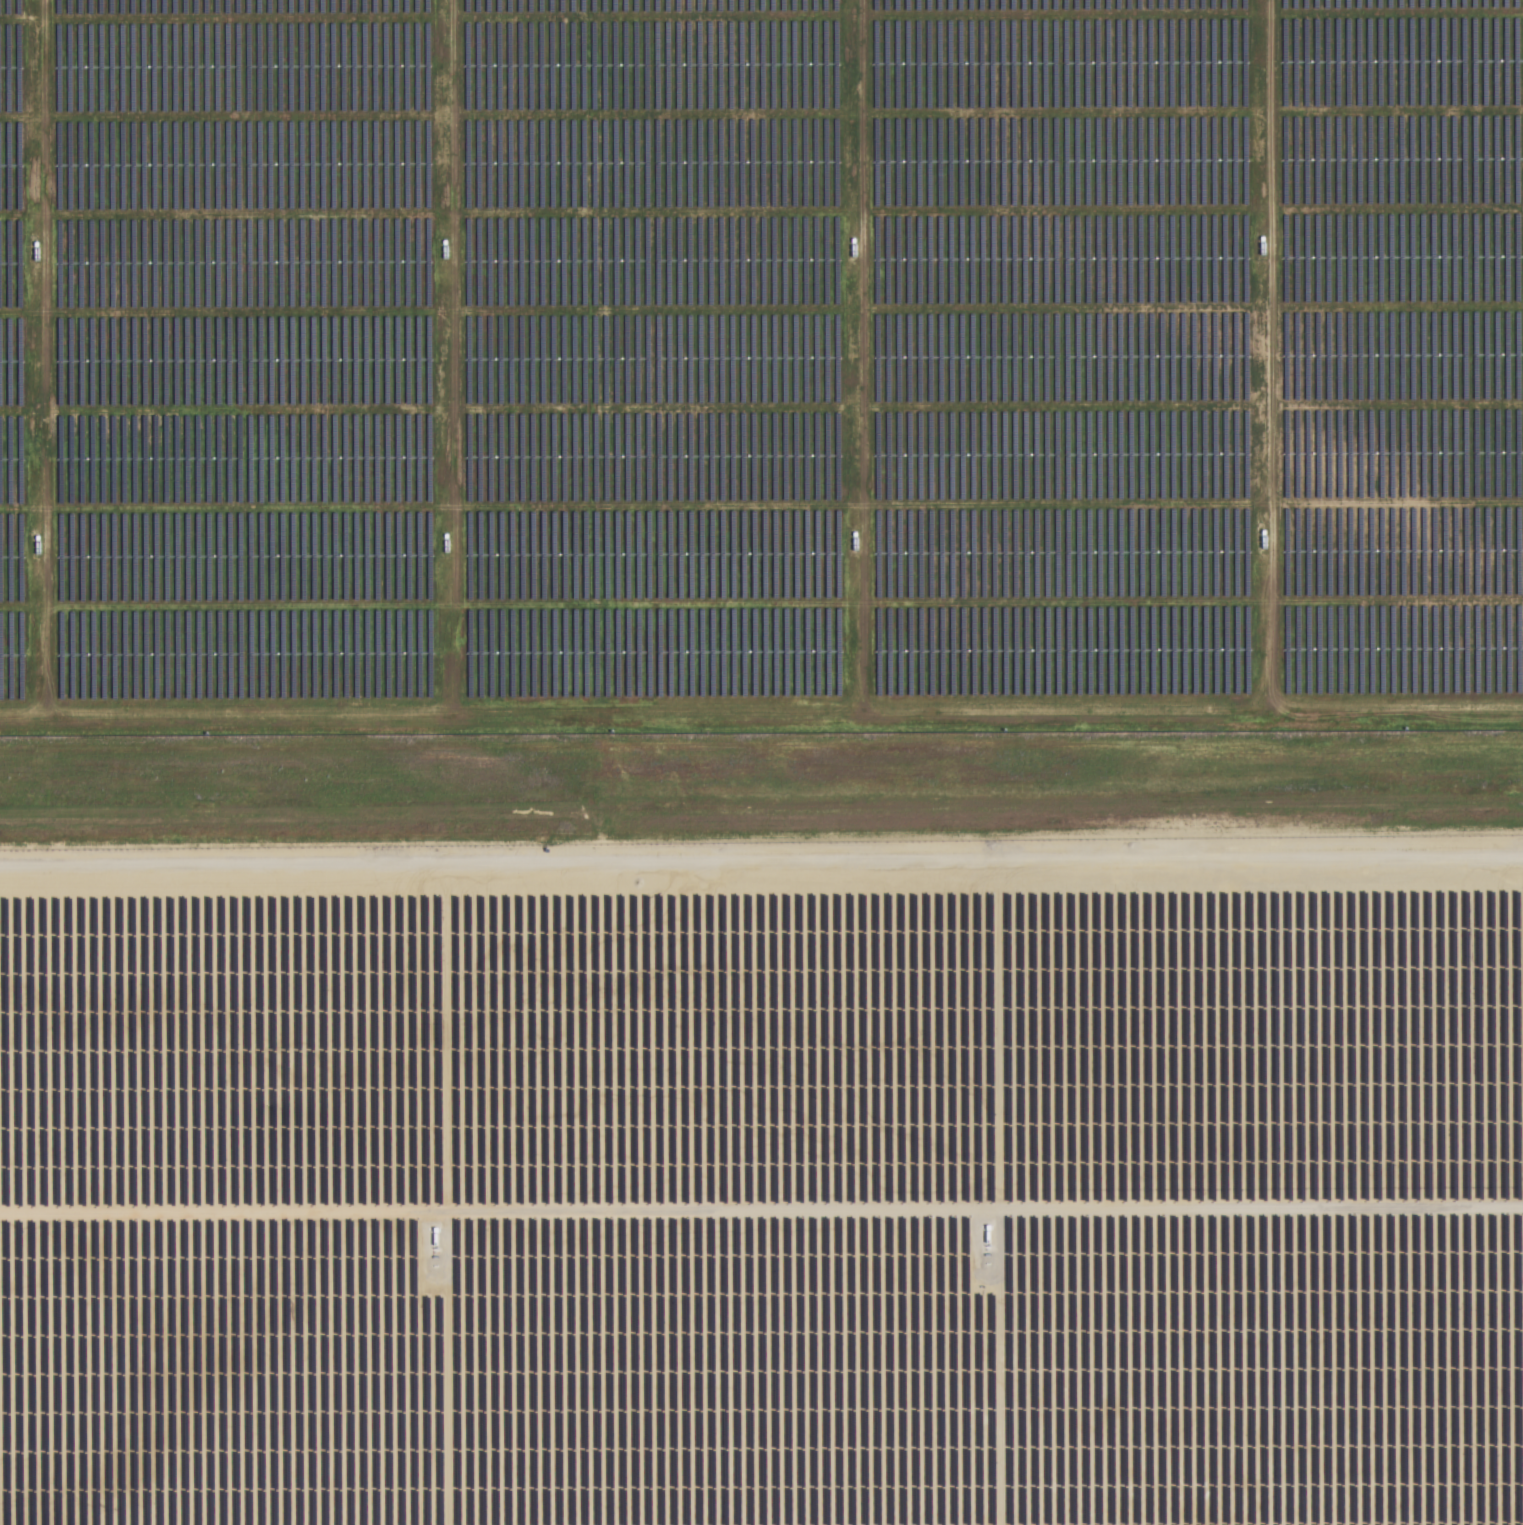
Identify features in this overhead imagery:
road: (761, 838)
solar farm: (763, 1182)

